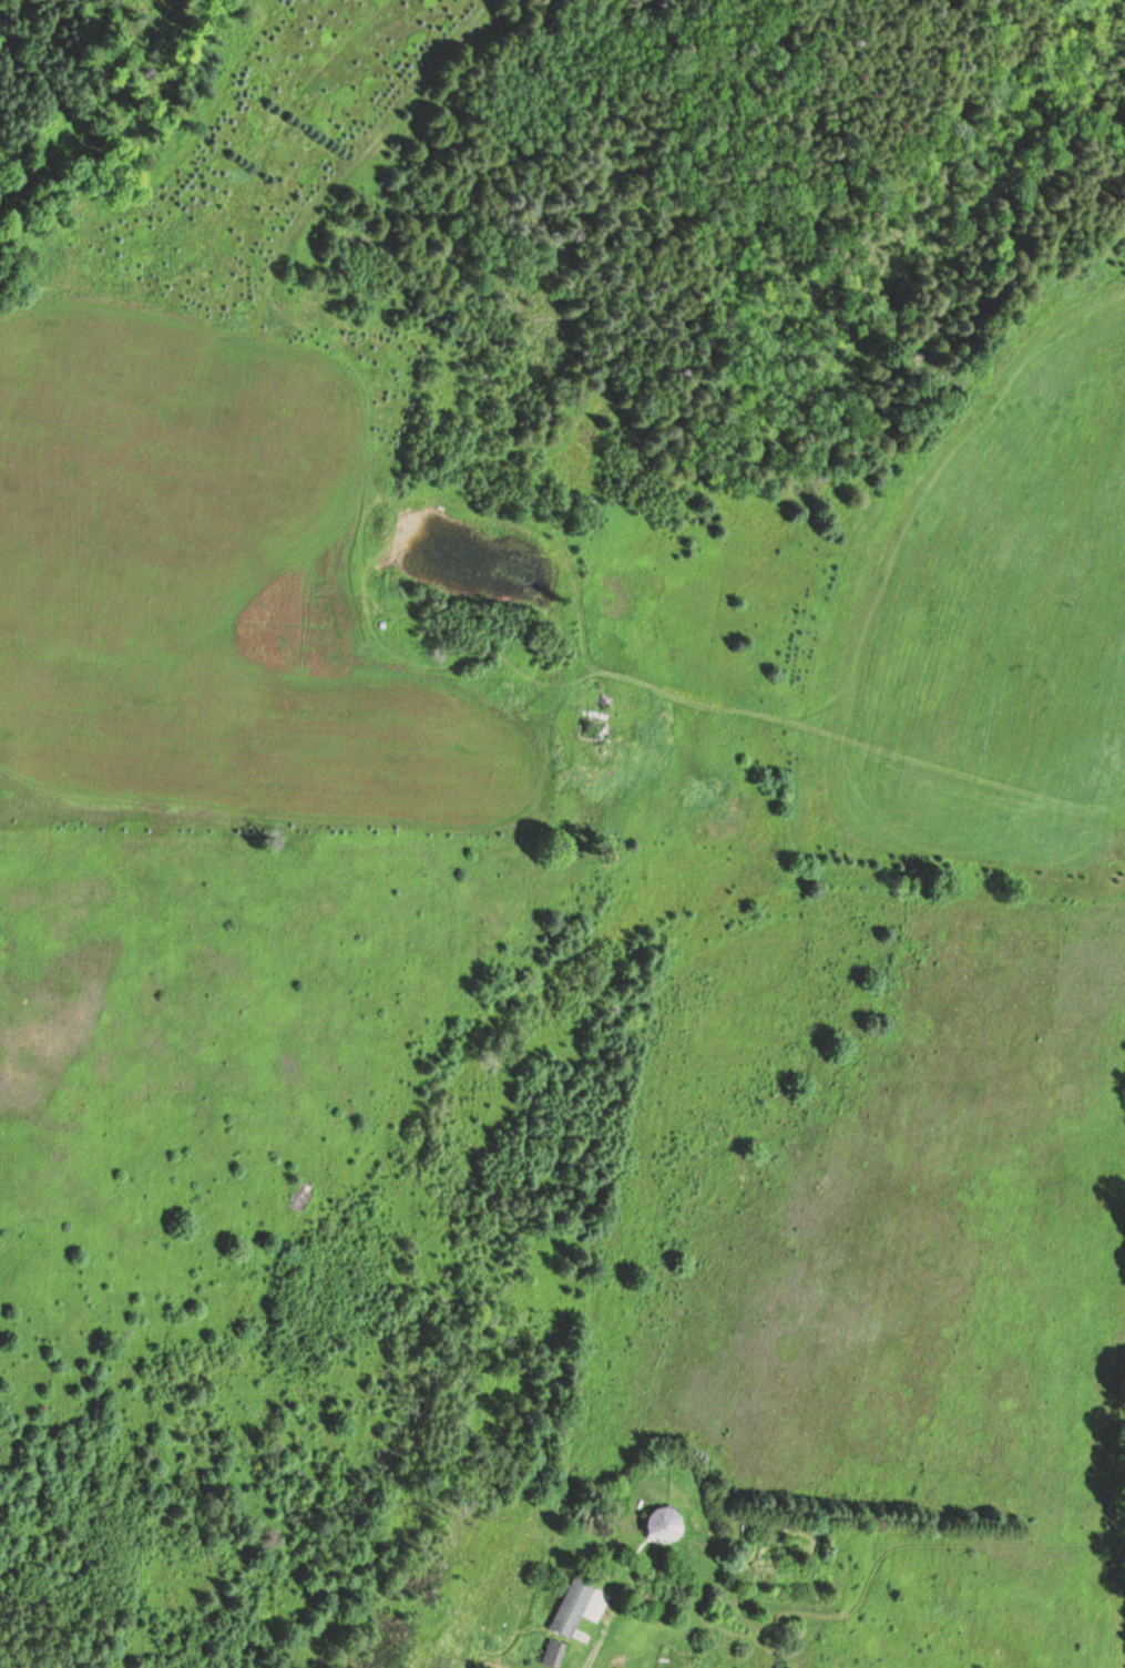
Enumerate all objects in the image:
building: (662, 1519)
building: (569, 1606)
building: (551, 1652)

